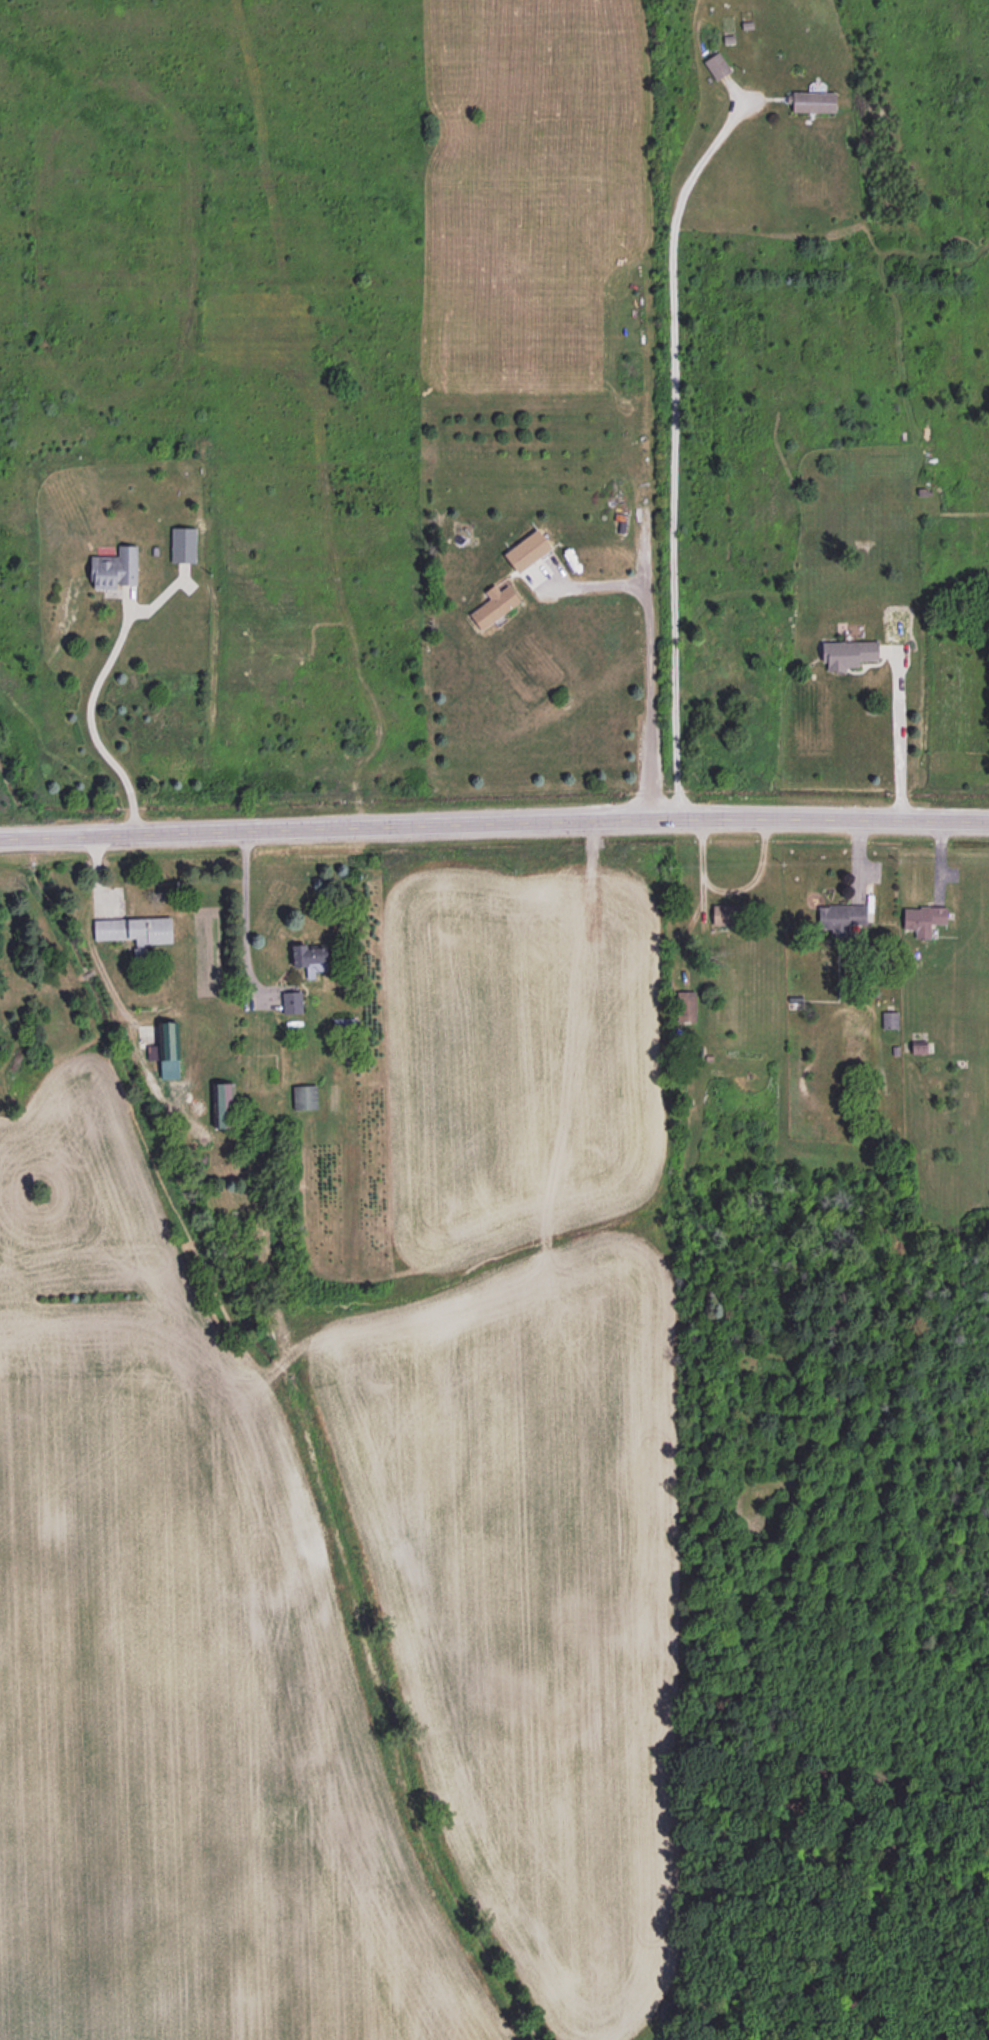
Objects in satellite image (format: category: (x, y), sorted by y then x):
building: (717, 65)
building: (812, 101)
road: (671, 452)
building: (183, 544)
building: (527, 550)
building: (115, 568)
building: (494, 605)
building: (849, 653)
road: (646, 667)
road: (89, 722)
road: (896, 737)
road: (494, 819)
road: (241, 912)
building: (724, 914)
building: (841, 917)
building: (924, 919)
building: (135, 929)
building: (309, 958)
building: (292, 1002)
building: (686, 1006)
building: (890, 1019)
building: (164, 1042)
building: (304, 1096)
building: (221, 1104)

